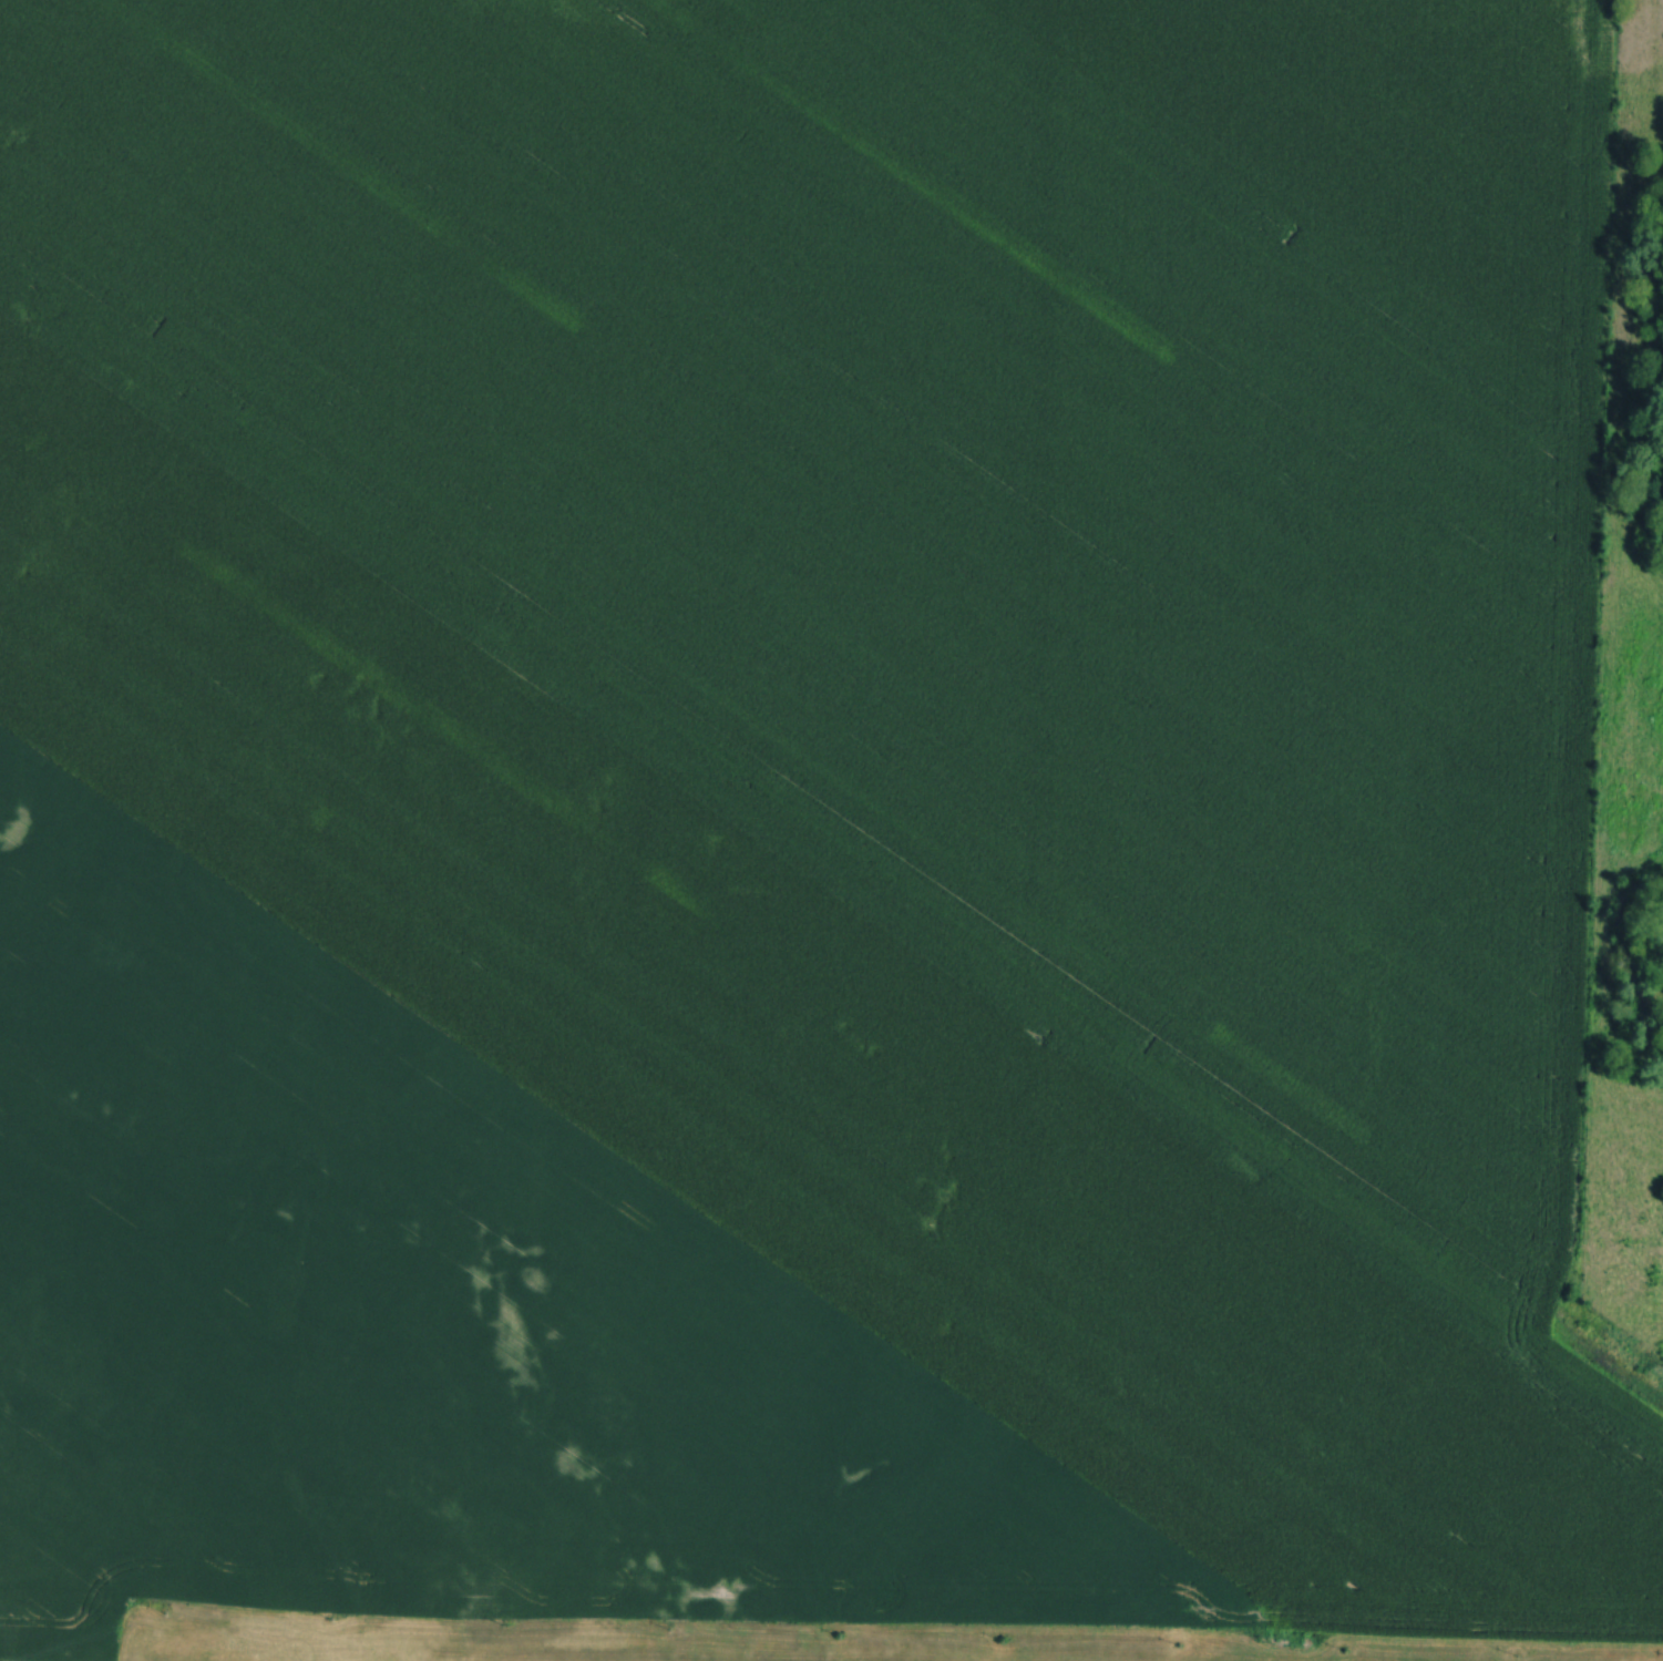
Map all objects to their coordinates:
river: (1660, 400)
river: (1632, 962)

